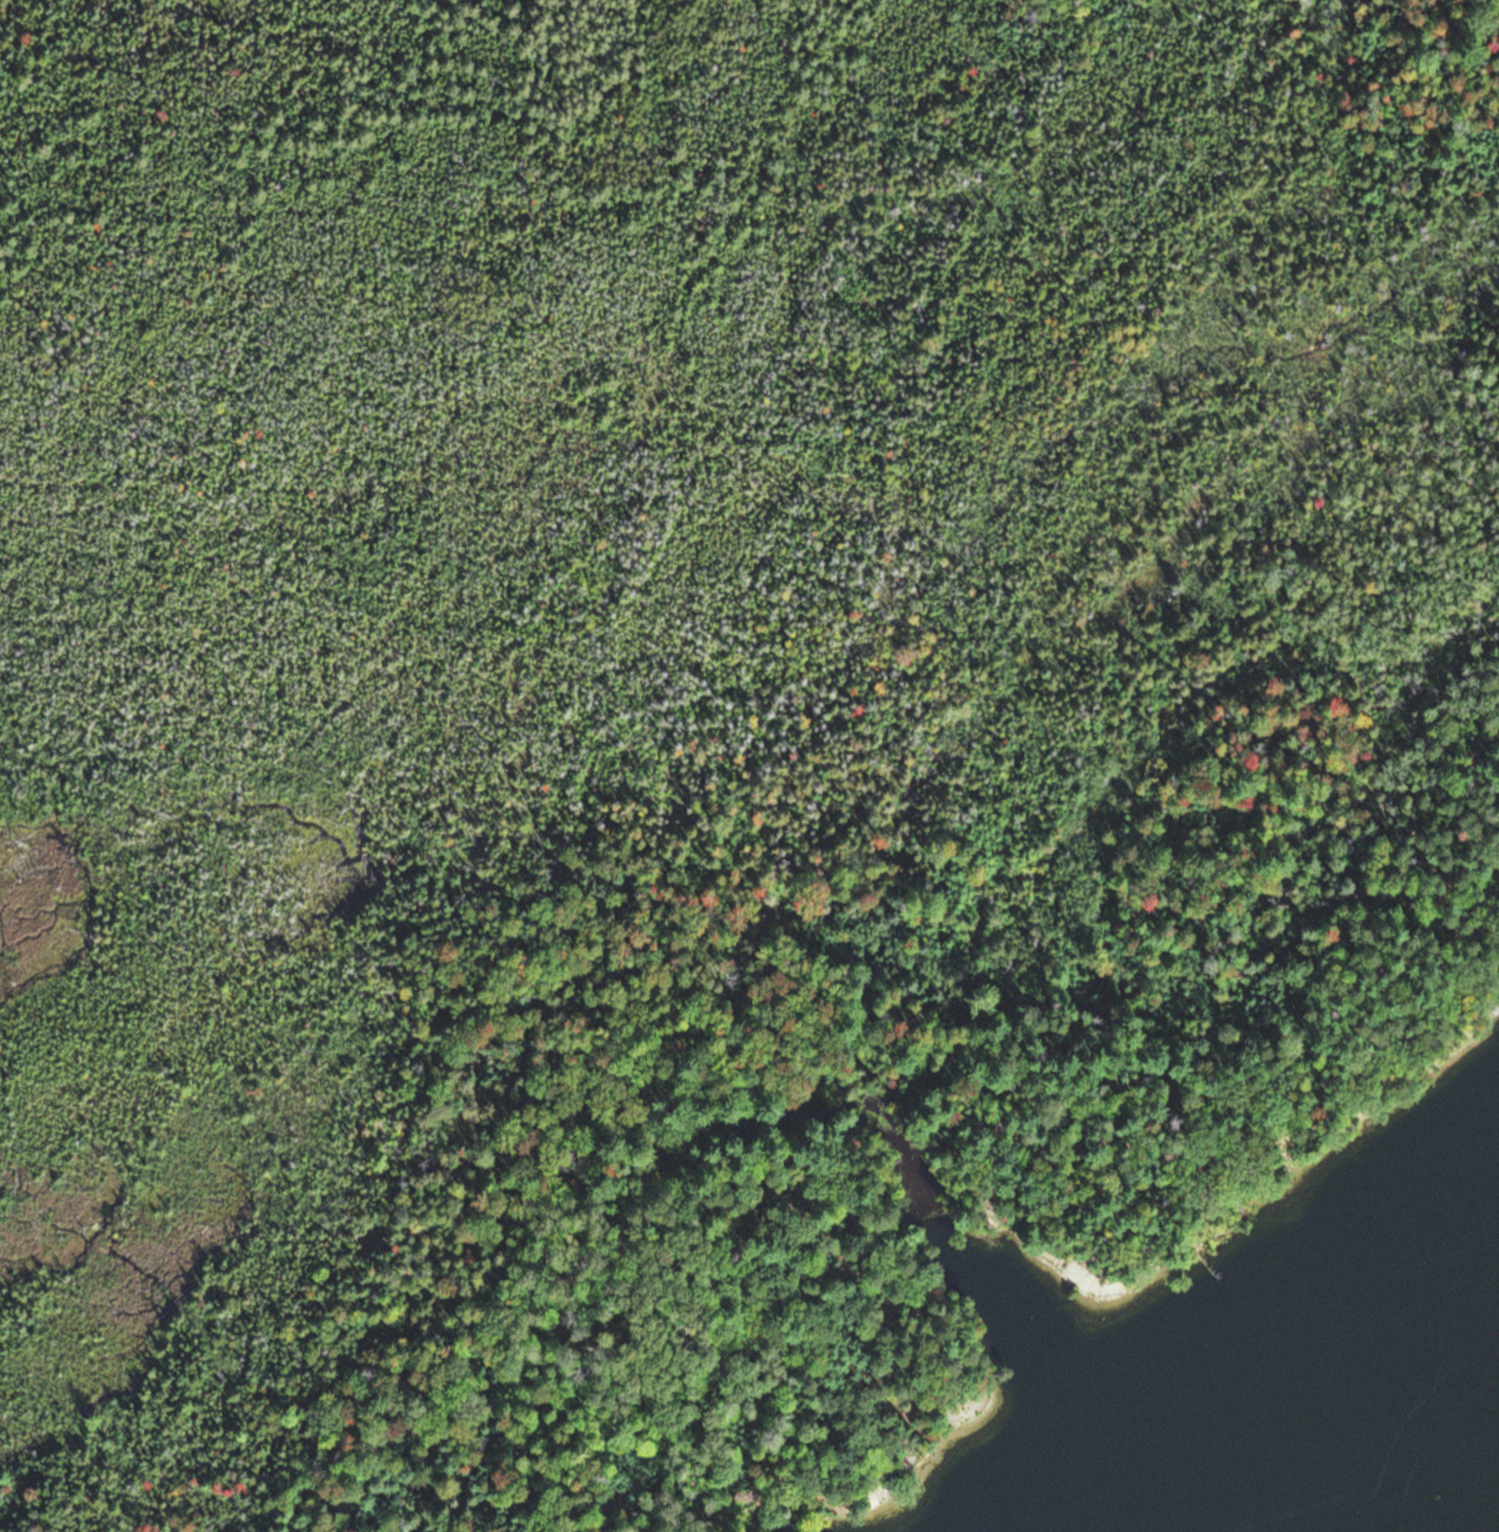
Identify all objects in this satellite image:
river: (1437, 1508)

